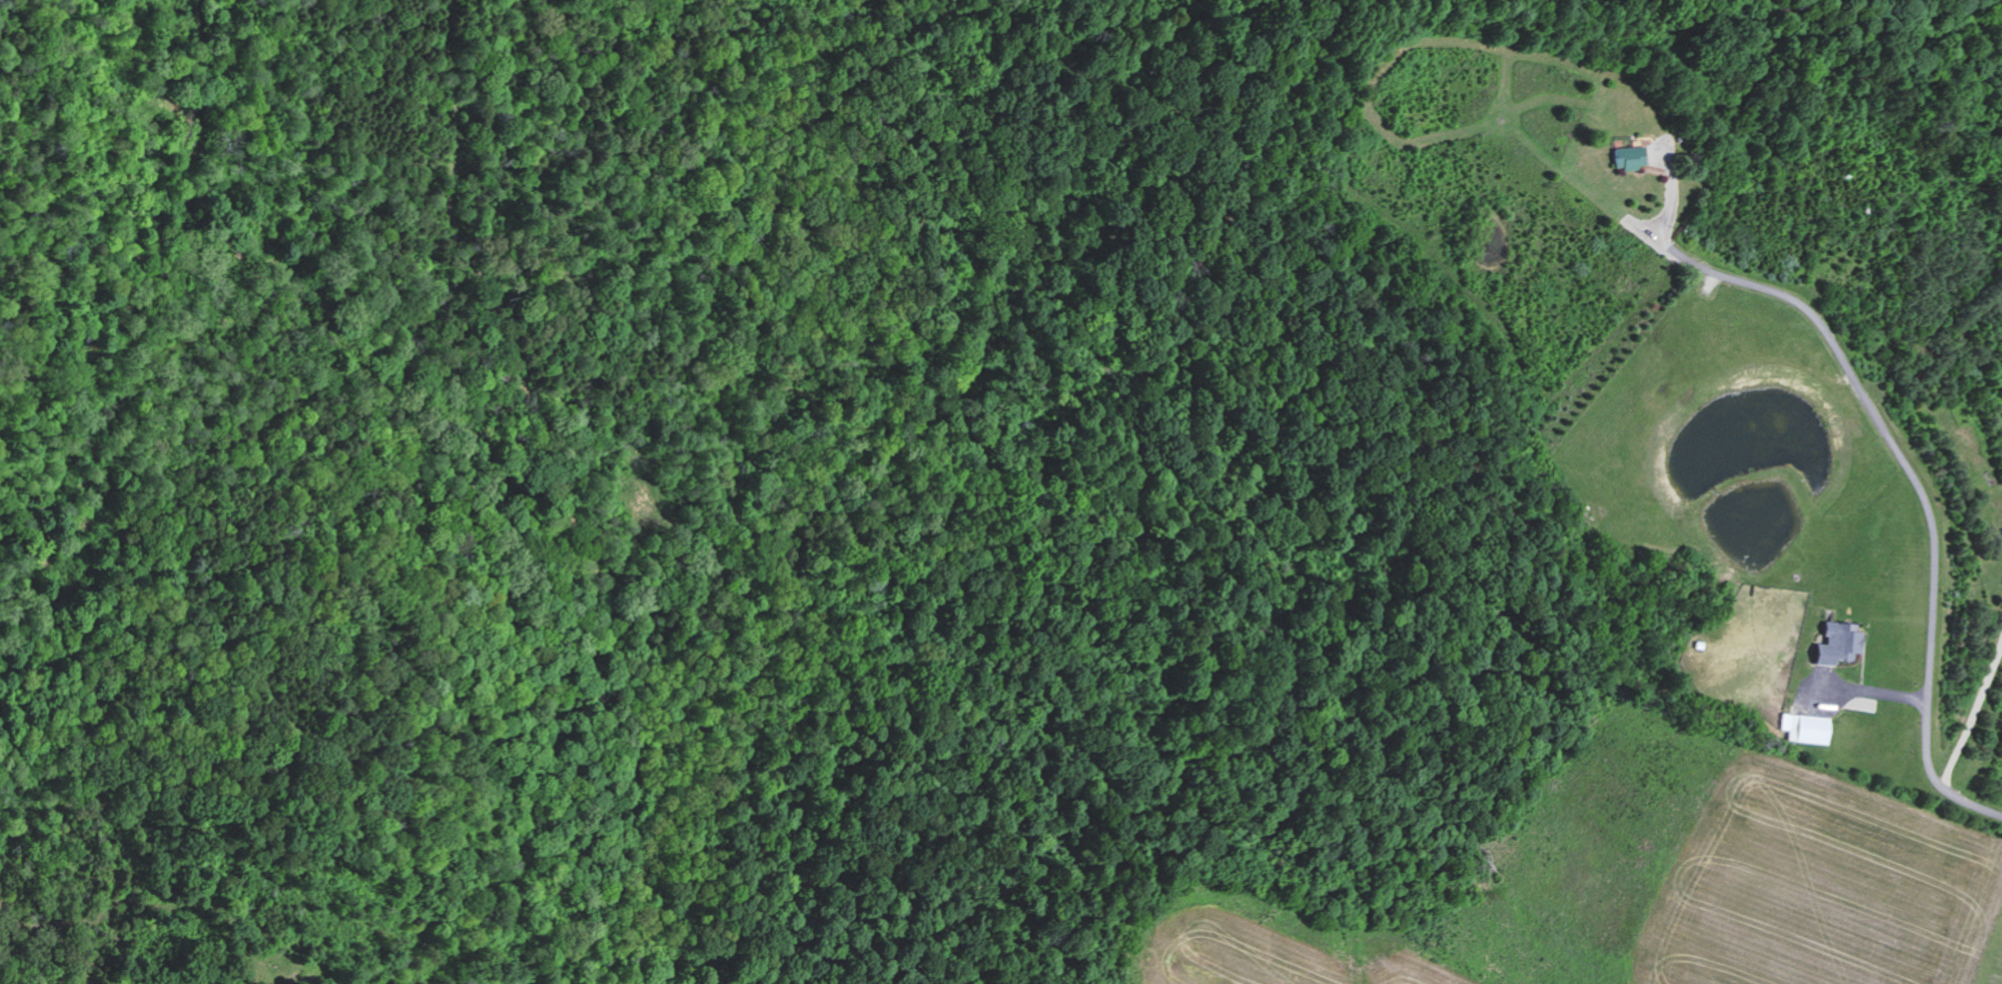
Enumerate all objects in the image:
building: (1625, 159)
road: (1925, 507)
building: (2001, 529)
building: (1836, 645)
building: (1805, 729)

